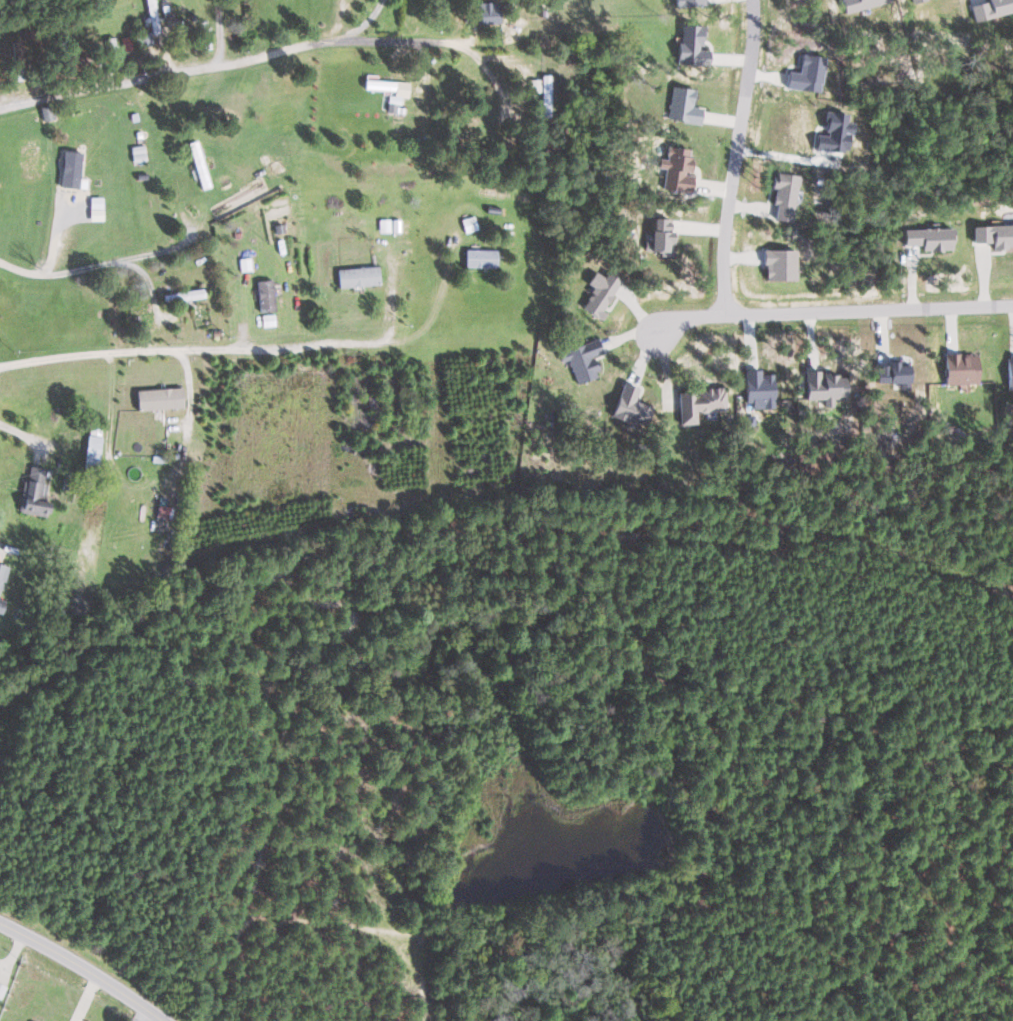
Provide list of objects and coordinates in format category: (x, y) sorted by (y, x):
building: (918, 1)
building: (690, 3)
building: (991, 8)
building: (488, 12)
road: (363, 23)
road: (218, 28)
building: (691, 45)
road: (268, 56)
building: (808, 73)
building: (380, 84)
building: (547, 95)
building: (393, 103)
building: (684, 105)
building: (47, 112)
building: (836, 132)
building: (73, 158)
building: (29, 159)
road: (737, 159)
building: (199, 164)
building: (677, 168)
building: (785, 195)
road: (266, 218)
building: (469, 223)
building: (660, 234)
building: (995, 234)
building: (930, 238)
building: (481, 257)
building: (780, 263)
building: (359, 276)
building: (600, 292)
building: (184, 295)
building: (266, 295)
road: (830, 314)
road: (261, 336)
building: (583, 359)
building: (961, 367)
building: (892, 372)
building: (1010, 372)
building: (824, 386)
building: (759, 388)
road: (115, 392)
building: (159, 398)
building: (699, 403)
building: (631, 406)
building: (92, 450)
building: (34, 491)
building: (163, 519)
building: (2, 574)
building: (1, 605)
road: (78, 972)
building: (2, 990)
road: (140, 1016)

